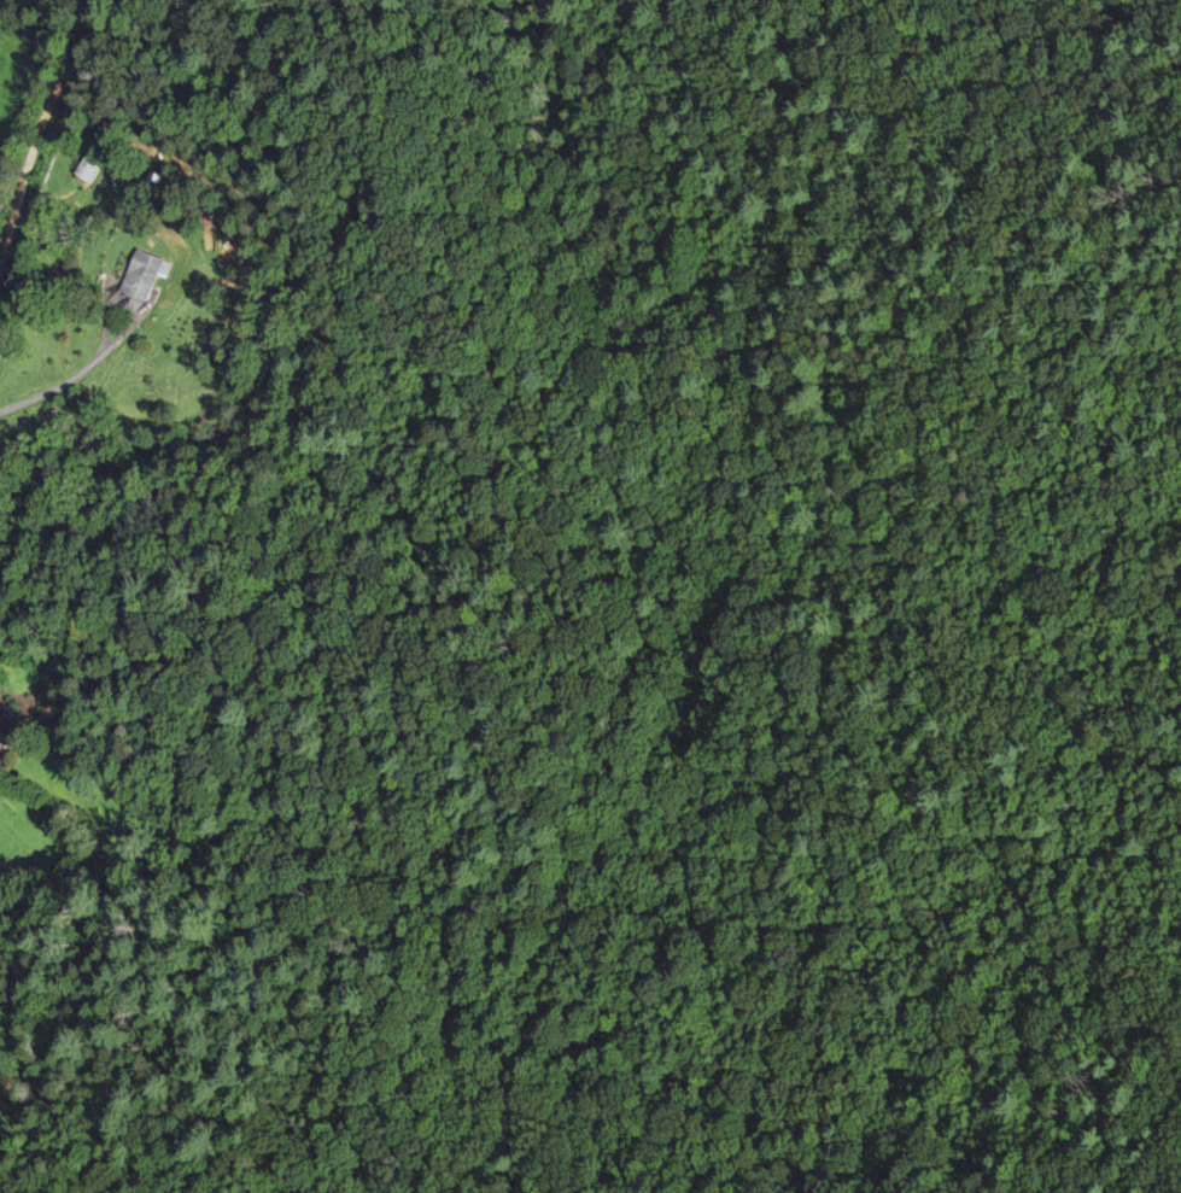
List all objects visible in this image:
road: (40, 121)
building: (86, 168)
building: (138, 276)
road: (136, 292)
road: (57, 387)
building: (5, 736)
road: (24, 794)

